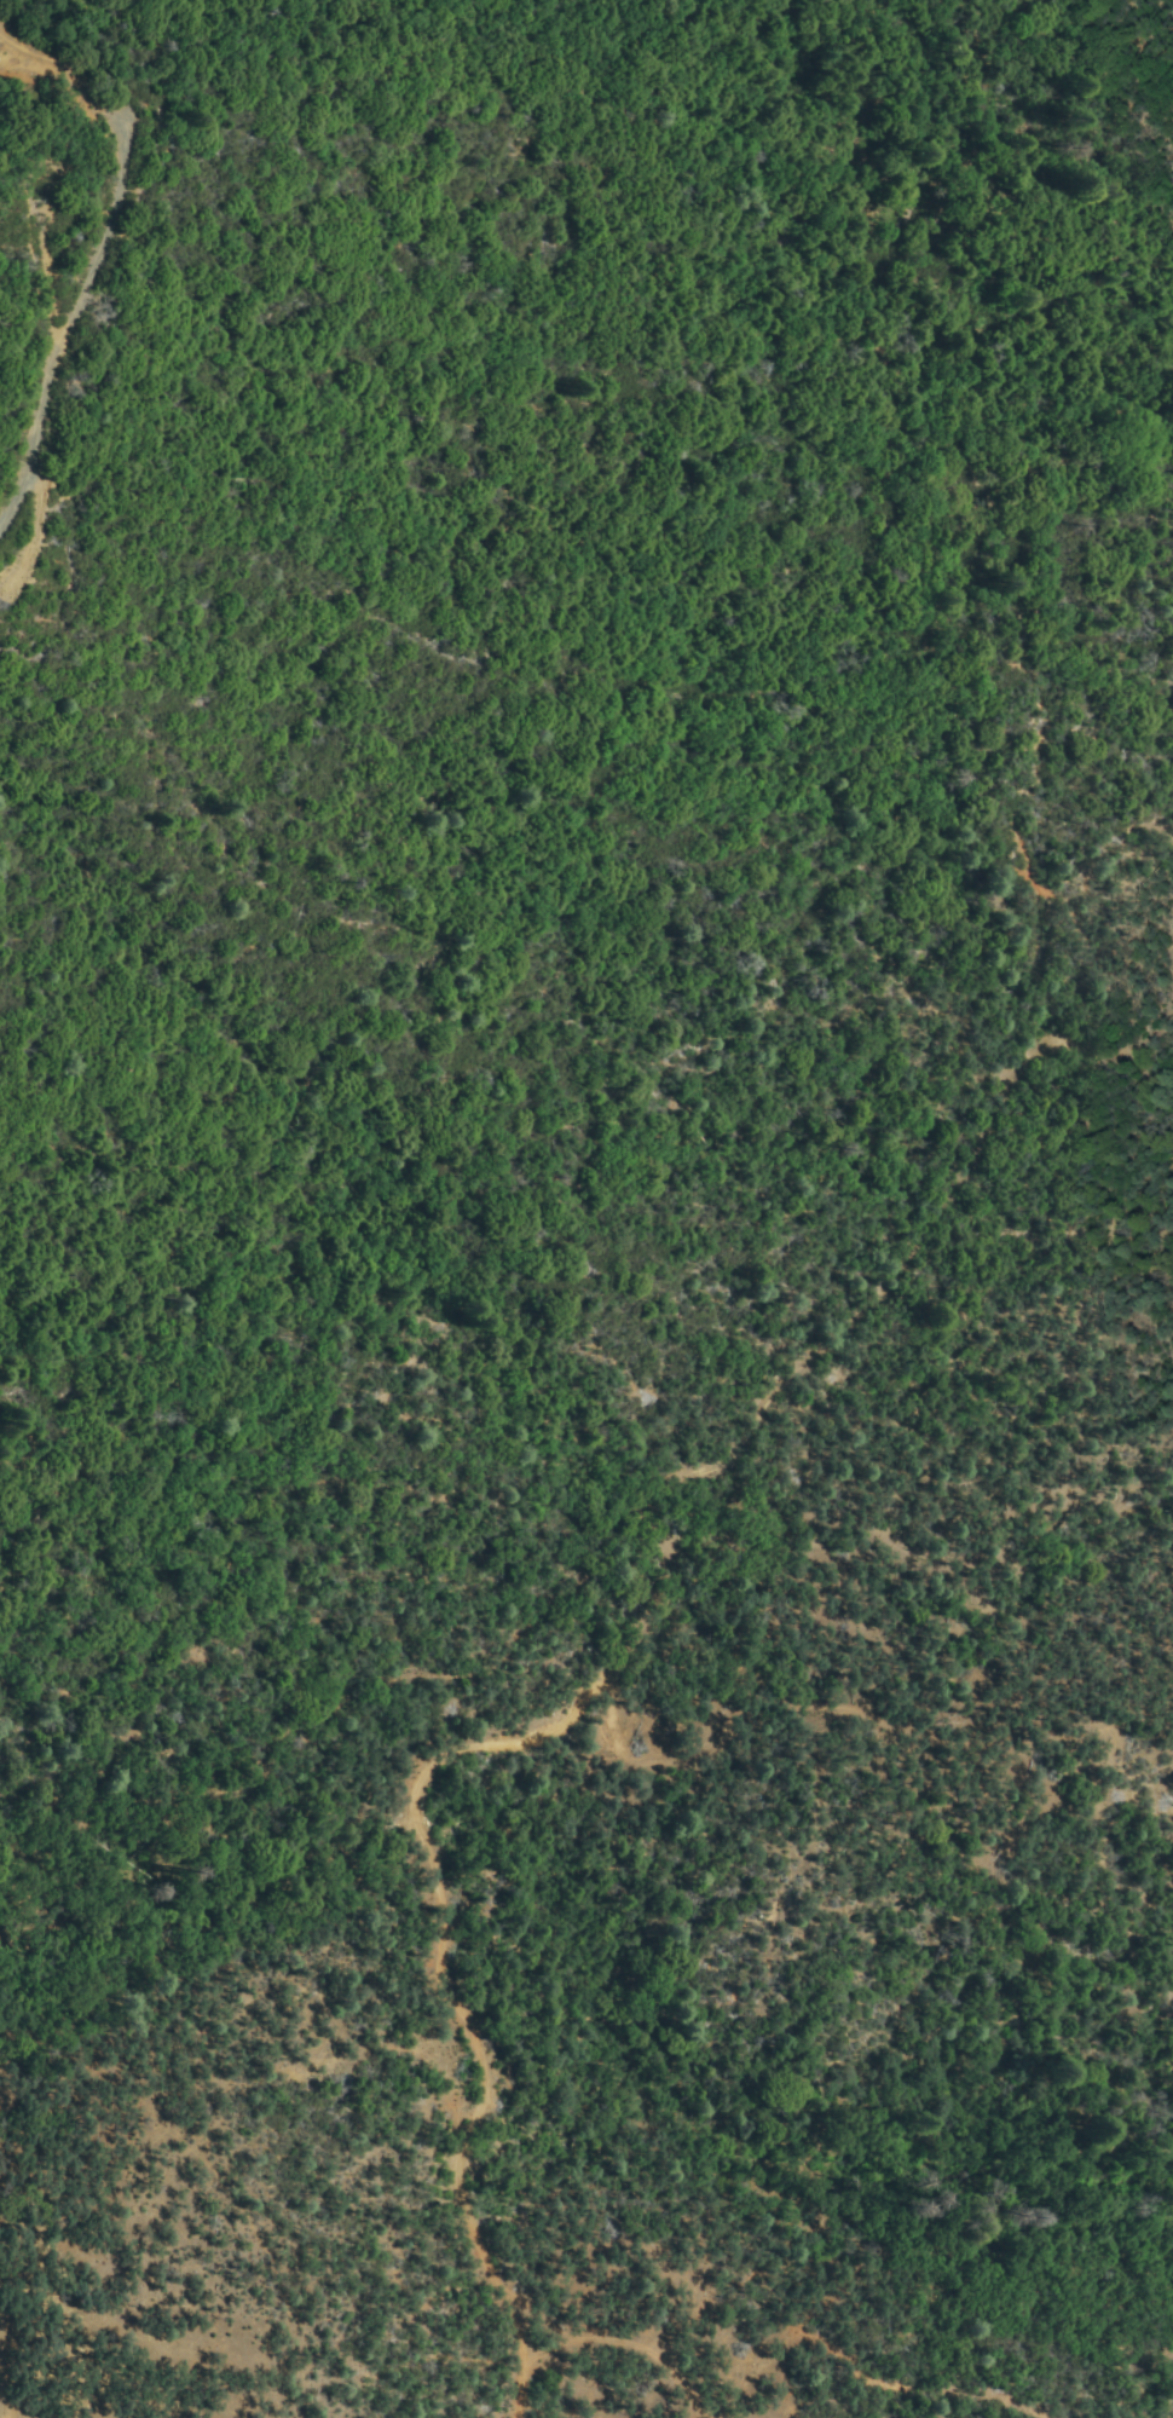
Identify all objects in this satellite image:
road: (59, 307)
building: (16, 1921)

